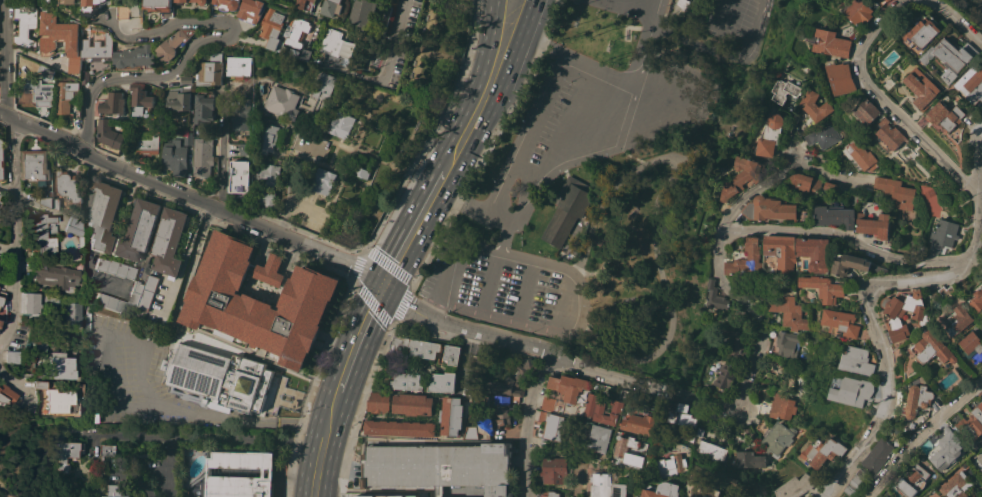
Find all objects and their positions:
building: (882, 0)
building: (889, 0)
building: (67, 1)
building: (181, 2)
road: (481, 3)
building: (225, 4)
building: (304, 4)
building: (90, 6)
building: (159, 6)
building: (331, 7)
building: (250, 10)
building: (365, 11)
building: (859, 11)
road: (69, 15)
road: (958, 19)
building: (26, 24)
road: (174, 26)
building: (271, 26)
road: (345, 28)
building: (294, 31)
building: (925, 32)
road: (681, 33)
building: (60, 39)
road: (394, 39)
road: (4, 41)
building: (173, 43)
road: (517, 43)
building: (833, 43)
building: (96, 45)
building: (335, 45)
road: (730, 52)
building: (296, 53)
building: (135, 56)
building: (952, 57)
building: (237, 66)
building: (934, 67)
building: (208, 71)
building: (47, 72)
building: (83, 74)
building: (842, 77)
road: (136, 79)
building: (187, 79)
building: (972, 84)
road: (473, 85)
building: (323, 86)
building: (40, 90)
building: (784, 91)
building: (924, 91)
road: (535, 92)
building: (66, 95)
building: (140, 98)
building: (177, 100)
building: (281, 101)
building: (113, 103)
road: (403, 103)
road: (890, 103)
building: (814, 105)
building: (202, 108)
building: (868, 110)
building: (240, 112)
building: (945, 116)
park: (400, 121)
building: (340, 124)
building: (132, 126)
road: (43, 132)
road: (363, 132)
road: (479, 132)
building: (107, 133)
building: (891, 134)
building: (769, 135)
building: (822, 135)
road: (412, 136)
road: (794, 137)
building: (186, 138)
building: (266, 138)
building: (145, 142)
building: (244, 148)
parking lot: (583, 149)
road: (607, 150)
building: (861, 155)
building: (174, 156)
building: (201, 157)
building: (1, 159)
building: (34, 165)
road: (221, 165)
road: (340, 170)
building: (363, 173)
building: (240, 176)
building: (743, 176)
road: (14, 177)
building: (322, 181)
road: (769, 182)
building: (804, 182)
building: (267, 184)
building: (25, 185)
building: (66, 185)
building: (828, 187)
building: (896, 191)
road: (338, 196)
building: (46, 200)
road: (472, 202)
building: (55, 203)
building: (0, 204)
building: (769, 208)
building: (567, 209)
building: (102, 214)
building: (833, 214)
road: (237, 215)
building: (872, 219)
building: (937, 222)
road: (414, 227)
building: (74, 229)
building: (137, 230)
building: (40, 235)
building: (168, 240)
building: (781, 250)
road: (185, 253)
building: (812, 255)
building: (747, 257)
road: (450, 260)
building: (849, 263)
building: (114, 268)
building: (54, 276)
road: (571, 281)
road: (487, 283)
building: (824, 287)
traffic signals: (382, 288)
building: (946, 291)
building: (142, 292)
road: (523, 292)
road: (734, 292)
building: (716, 296)
building: (258, 299)
building: (977, 300)
building: (36, 302)
building: (108, 303)
building: (2, 306)
building: (904, 312)
building: (70, 313)
building: (791, 313)
road: (499, 316)
building: (960, 320)
building: (838, 323)
road: (464, 326)
building: (172, 331)
building: (188, 332)
road: (358, 335)
road: (877, 337)
building: (734, 342)
building: (782, 342)
building: (973, 345)
building: (414, 346)
building: (933, 348)
building: (451, 354)
building: (11, 357)
building: (856, 360)
building: (59, 366)
building: (216, 372)
building: (971, 372)
building: (724, 376)
building: (513, 379)
building: (406, 381)
building: (442, 382)
building: (37, 384)
road: (19, 386)
building: (568, 386)
building: (851, 390)
building: (5, 395)
building: (980, 395)
building: (484, 399)
building: (917, 399)
road: (335, 400)
building: (650, 400)
building: (59, 402)
building: (378, 402)
building: (547, 403)
building: (412, 404)
building: (602, 407)
building: (777, 407)
building: (497, 412)
road: (215, 414)
building: (681, 414)
building: (451, 415)
road: (527, 422)
building: (639, 423)
building: (550, 425)
building: (400, 427)
building: (972, 428)
building: (897, 429)
building: (470, 432)
building: (700, 432)
building: (774, 435)
road: (921, 436)
building: (599, 438)
building: (544, 442)
building: (107, 449)
building: (621, 450)
building: (711, 450)
building: (946, 450)
building: (66, 451)
building: (821, 451)
road: (319, 455)
building: (878, 455)
building: (980, 458)
building: (749, 459)
building: (965, 463)
building: (672, 465)
building: (439, 466)
building: (552, 466)
building: (981, 469)
building: (271, 471)
building: (863, 475)
building: (858, 480)
building: (913, 480)
building: (732, 481)
building: (601, 484)
building: (957, 485)
building: (795, 486)
building: (854, 486)
building: (622, 488)
building: (702, 488)
building: (664, 490)
building: (114, 491)
building: (850, 491)
building: (549, 494)
building: (382, 495)
building: (639, 496)
building: (721, 496)

